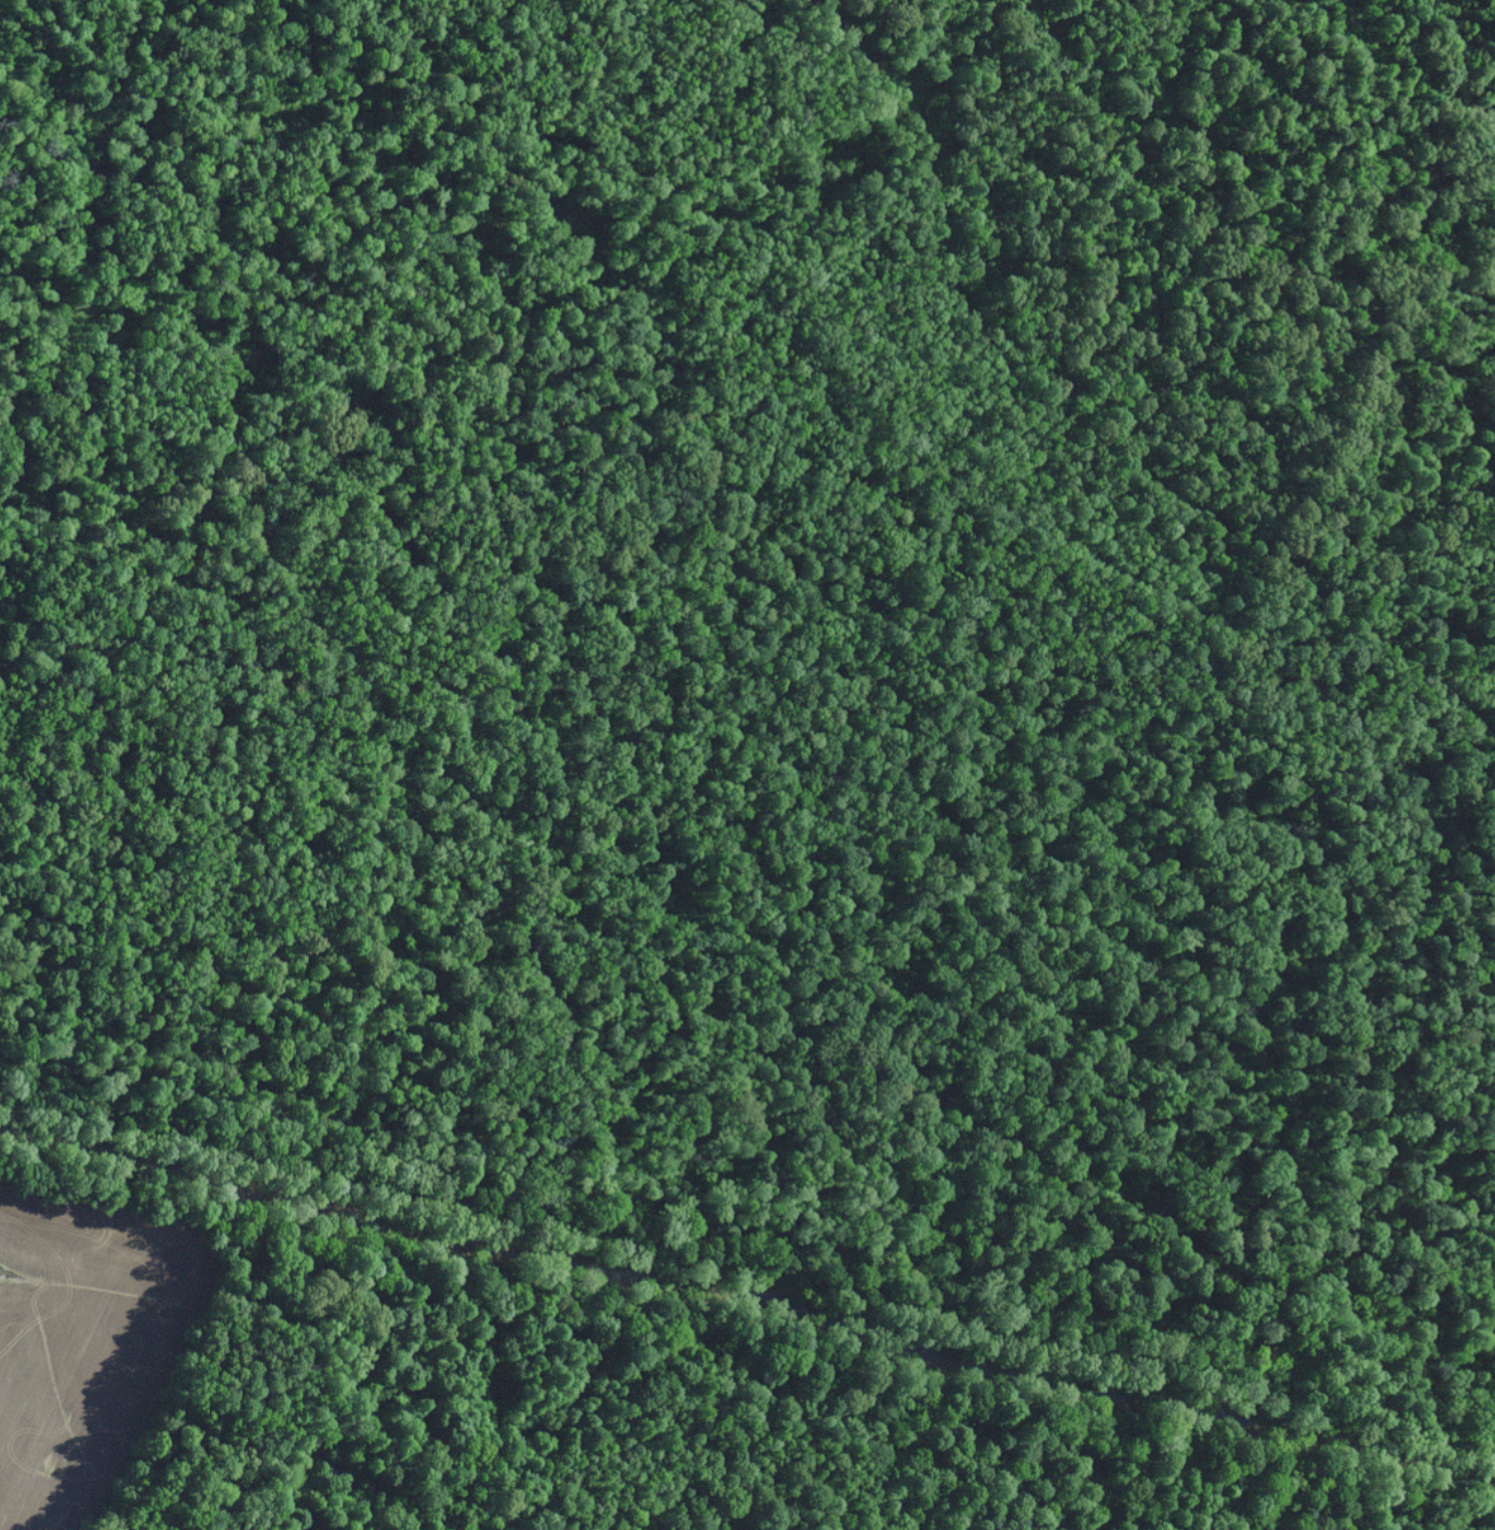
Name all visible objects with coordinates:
road: (479, 248)

